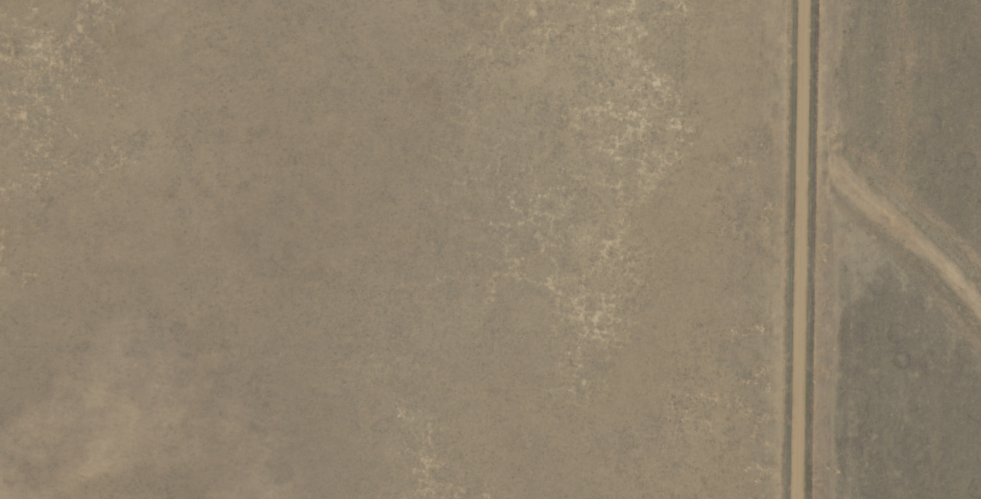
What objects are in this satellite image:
road: (804, 249)

